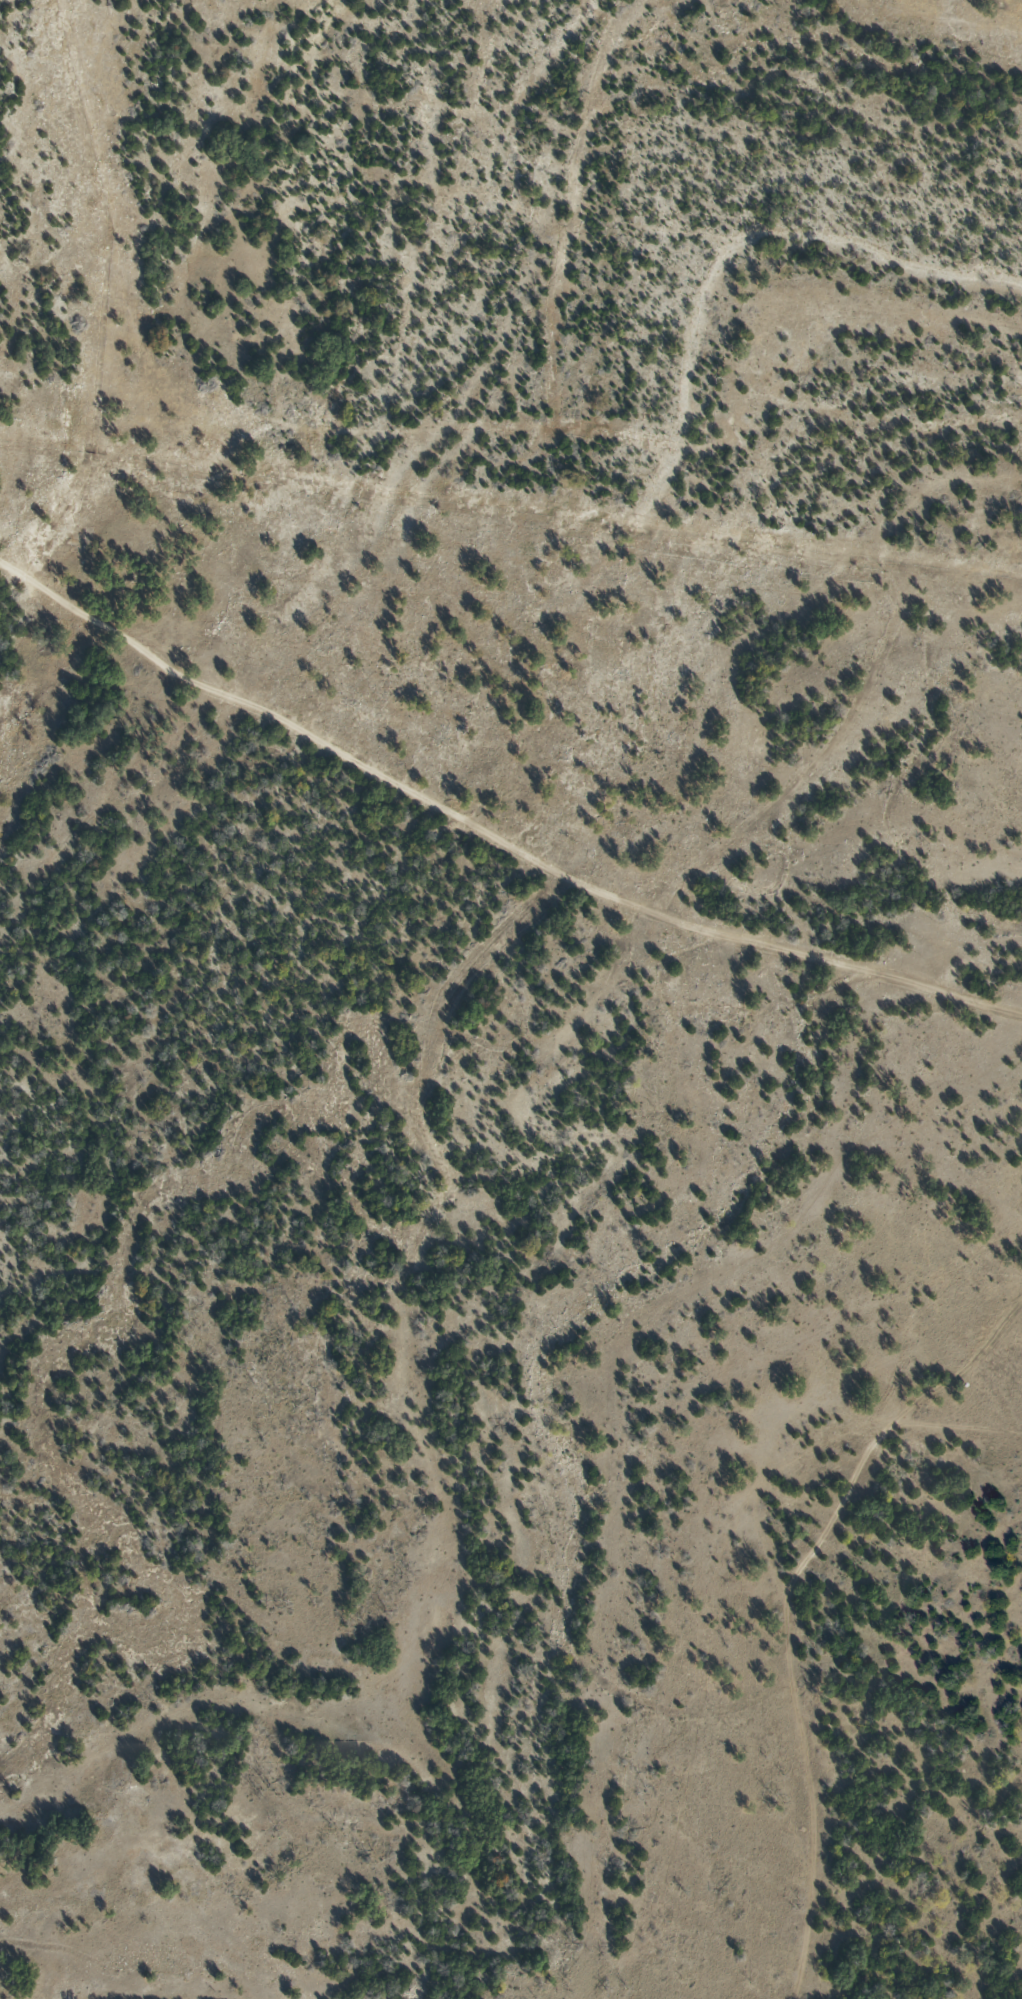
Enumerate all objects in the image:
road: (498, 853)

